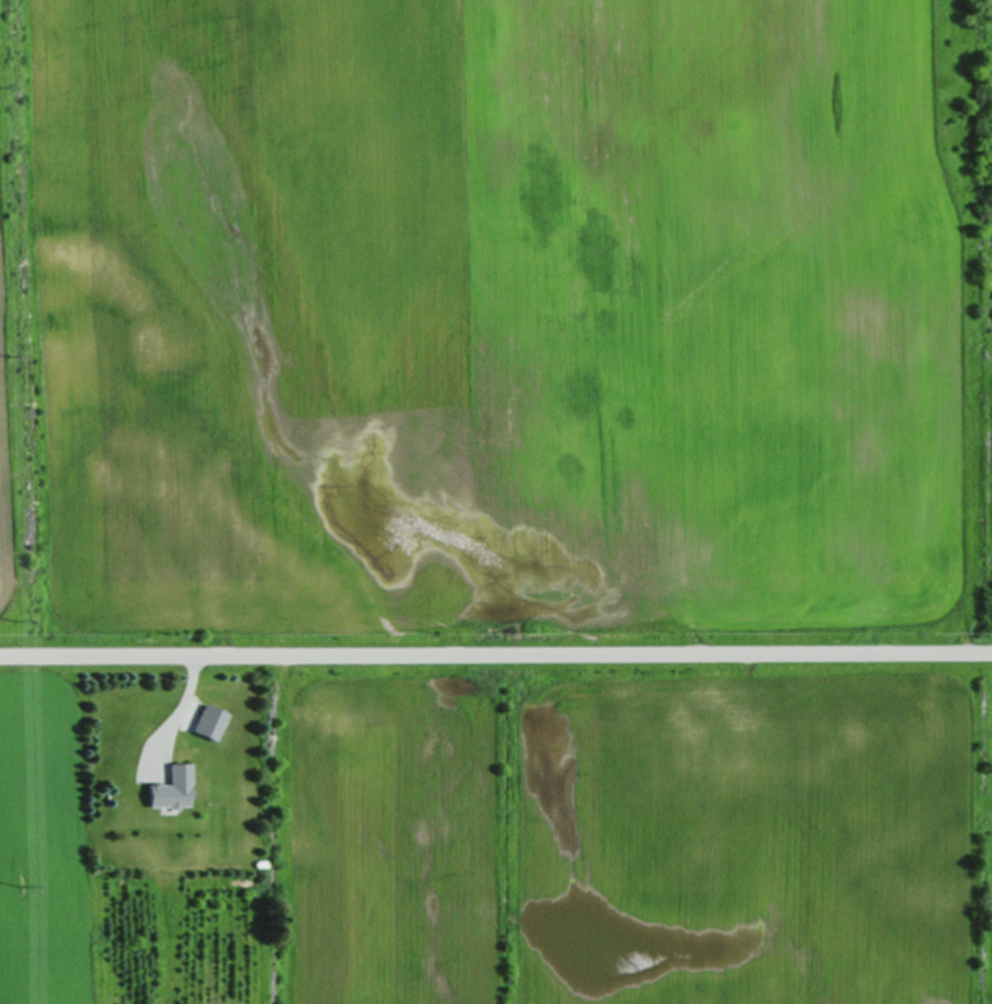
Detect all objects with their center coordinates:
power tower: (3, 86)
power tower: (7, 356)
power tower: (13, 623)
road: (495, 654)
building: (208, 722)
building: (168, 789)
power tower: (20, 881)

